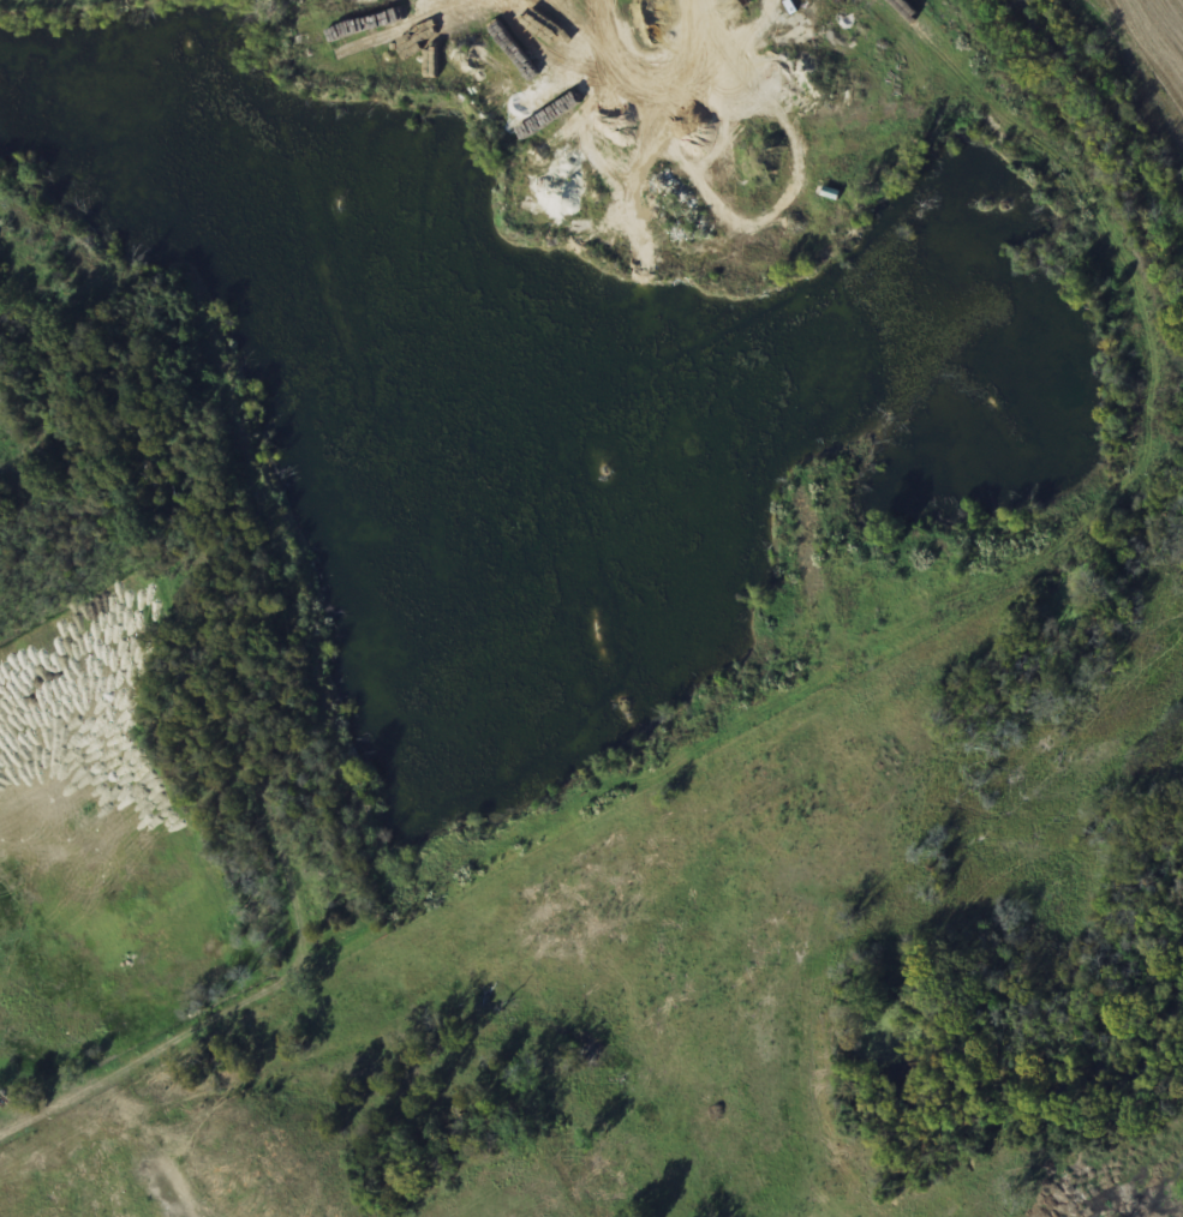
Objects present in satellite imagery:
road: (438, 905)

